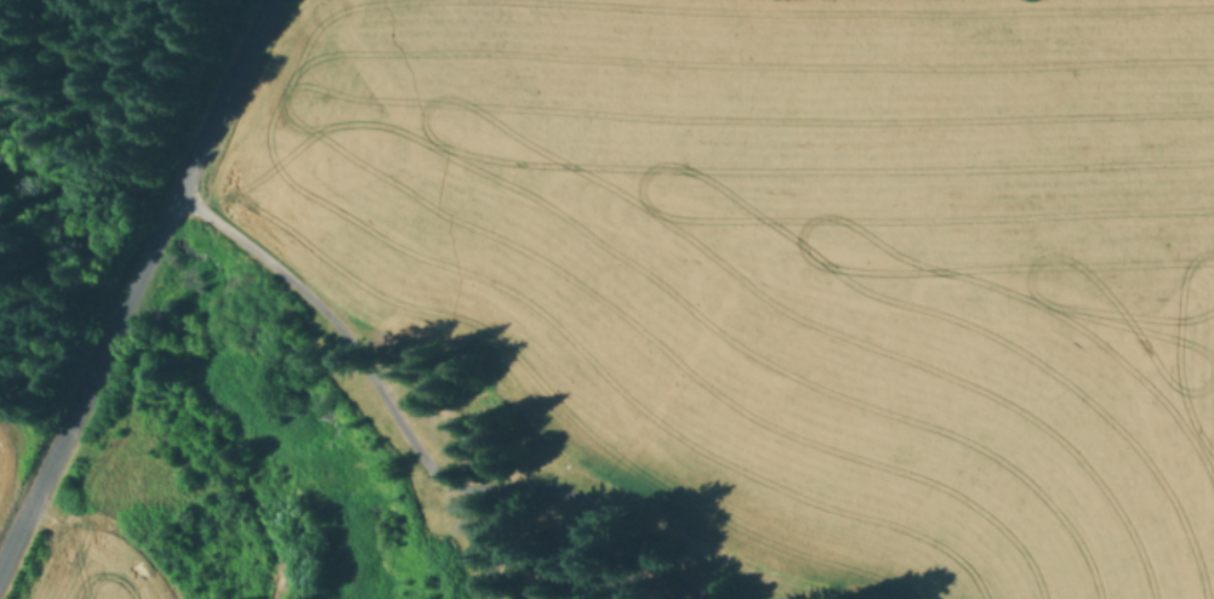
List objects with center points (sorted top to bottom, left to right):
crop: (797, 259)
road: (135, 283)
road: (412, 443)
crop: (7, 461)
road: (182, 497)
crop: (92, 566)

